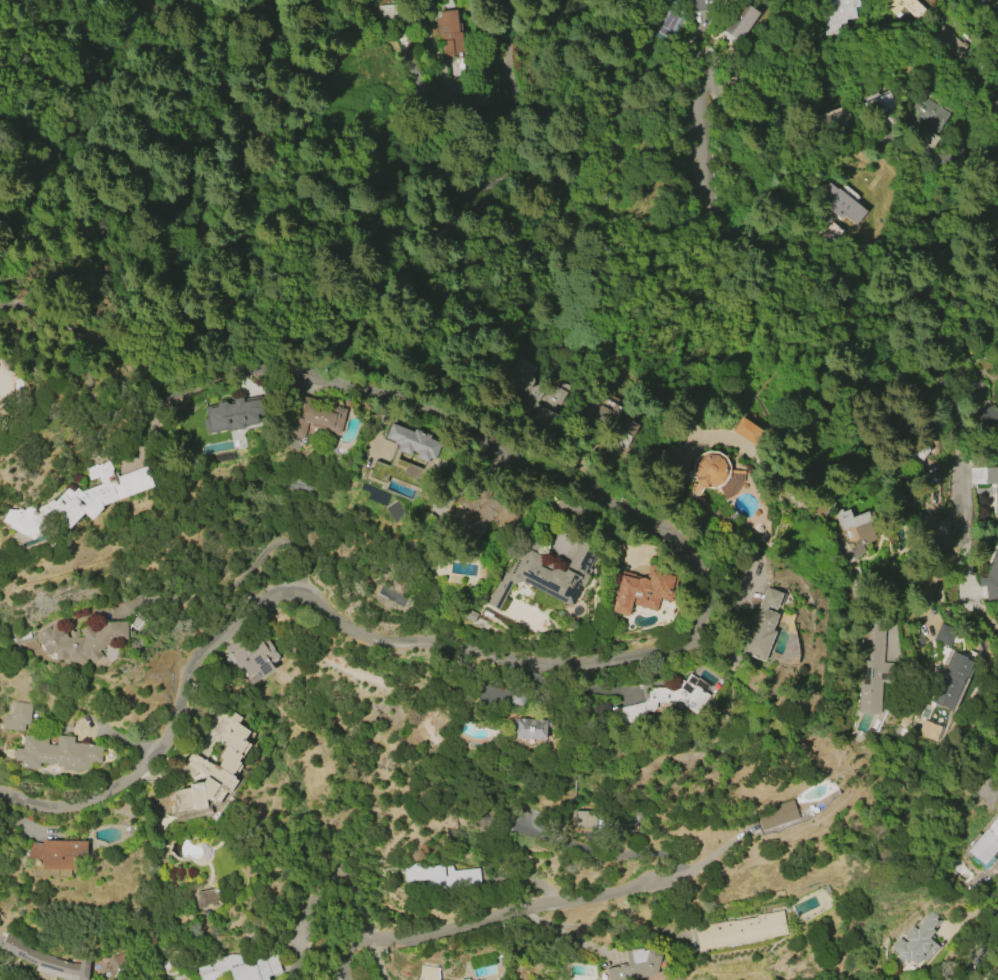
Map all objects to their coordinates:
building: (701, 5)
building: (902, 7)
building: (834, 13)
building: (740, 21)
road: (980, 21)
building: (449, 34)
building: (942, 35)
road: (585, 52)
building: (990, 94)
building: (925, 112)
building: (830, 117)
road: (854, 137)
road: (550, 186)
building: (833, 201)
road: (822, 274)
road: (321, 370)
building: (533, 396)
building: (232, 416)
building: (315, 416)
building: (988, 417)
building: (609, 420)
building: (747, 430)
building: (410, 443)
building: (714, 475)
building: (415, 476)
building: (992, 483)
building: (79, 500)
building: (484, 509)
building: (852, 527)
road: (934, 550)
building: (547, 574)
road: (968, 576)
building: (990, 579)
road: (238, 583)
building: (640, 592)
building: (391, 597)
road: (731, 605)
building: (758, 627)
building: (943, 634)
building: (79, 641)
road: (469, 648)
building: (252, 657)
building: (871, 667)
building: (948, 679)
road: (566, 686)
building: (667, 699)
building: (17, 717)
building: (527, 729)
building: (929, 730)
building: (58, 754)
building: (215, 769)
building: (775, 815)
building: (589, 819)
building: (986, 843)
building: (59, 853)
road: (702, 867)
building: (440, 875)
building: (210, 898)
road: (477, 921)
road: (615, 928)
building: (740, 931)
road: (567, 934)
building: (918, 940)
road: (4, 958)
road: (986, 959)
building: (47, 961)
building: (636, 965)
building: (483, 967)
building: (242, 968)
building: (428, 973)
building: (465, 979)
building: (471, 979)

